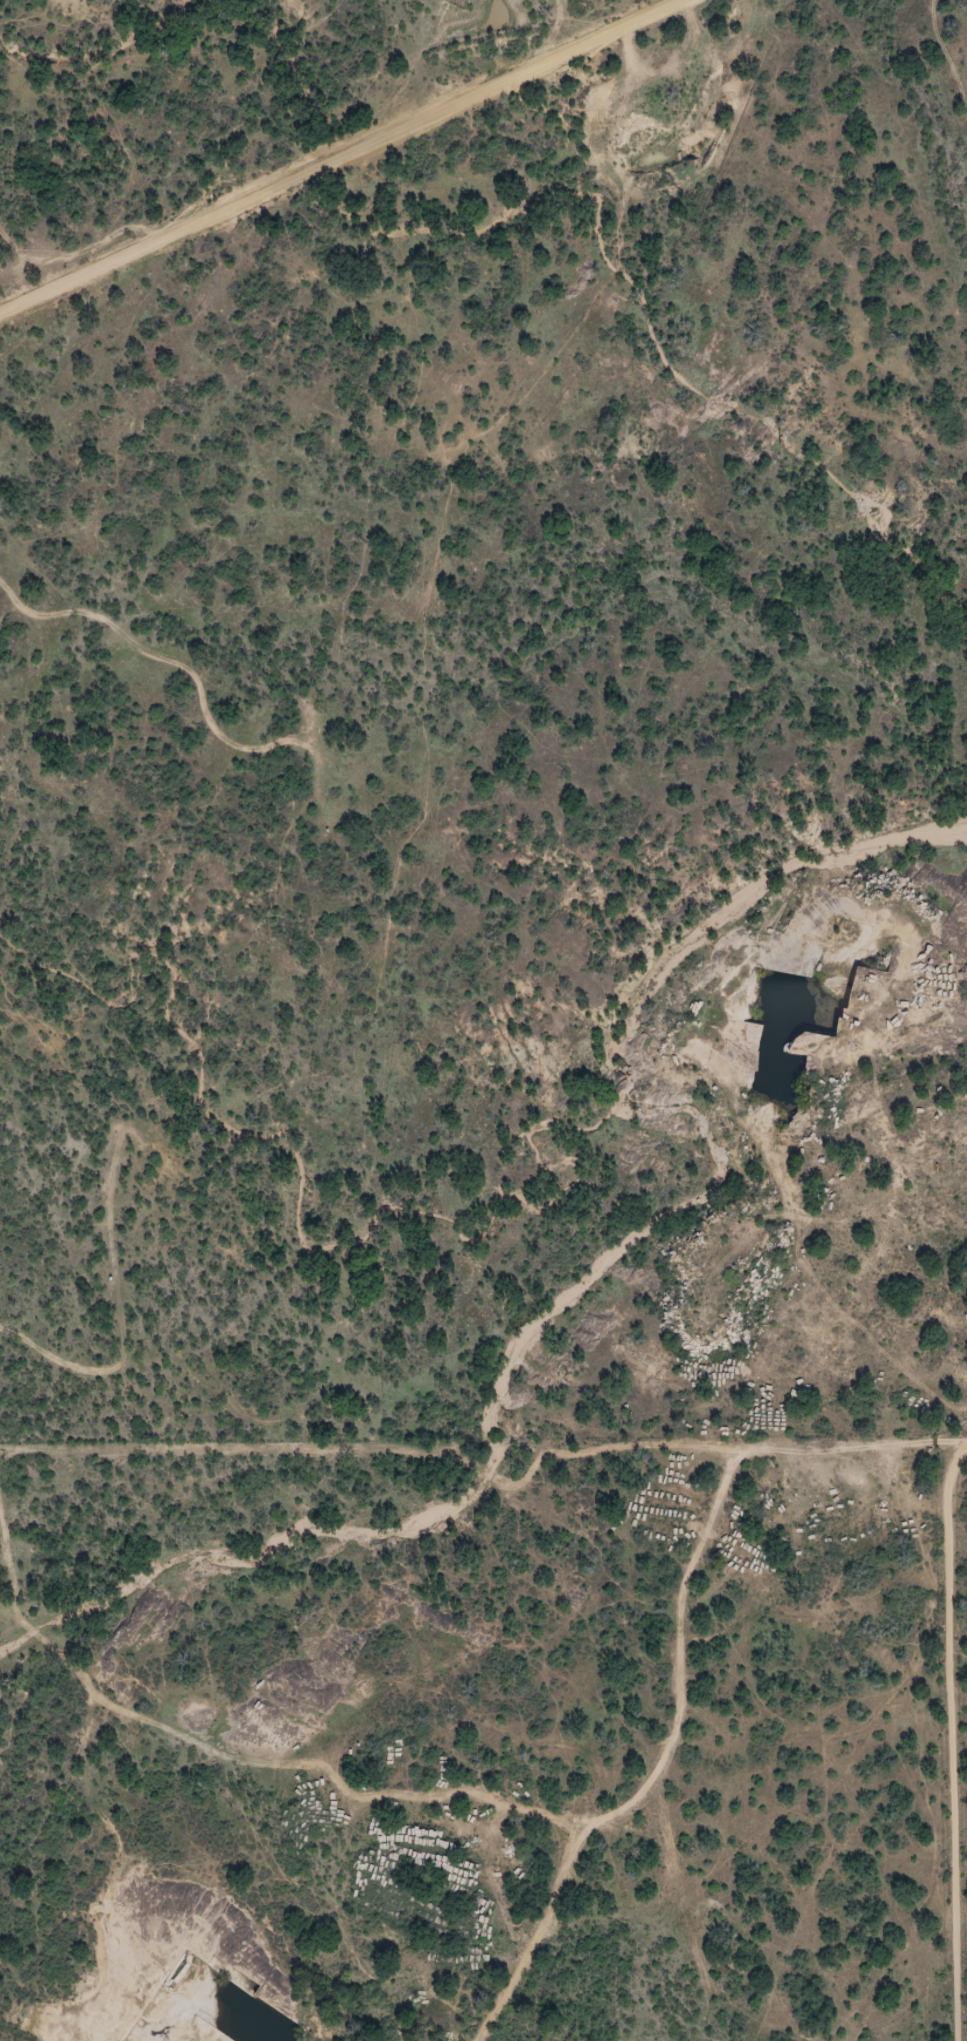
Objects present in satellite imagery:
road: (343, 156)
quarry: (809, 1234)
road: (953, 1742)
building: (667, 1833)
quarry: (344, 1900)

